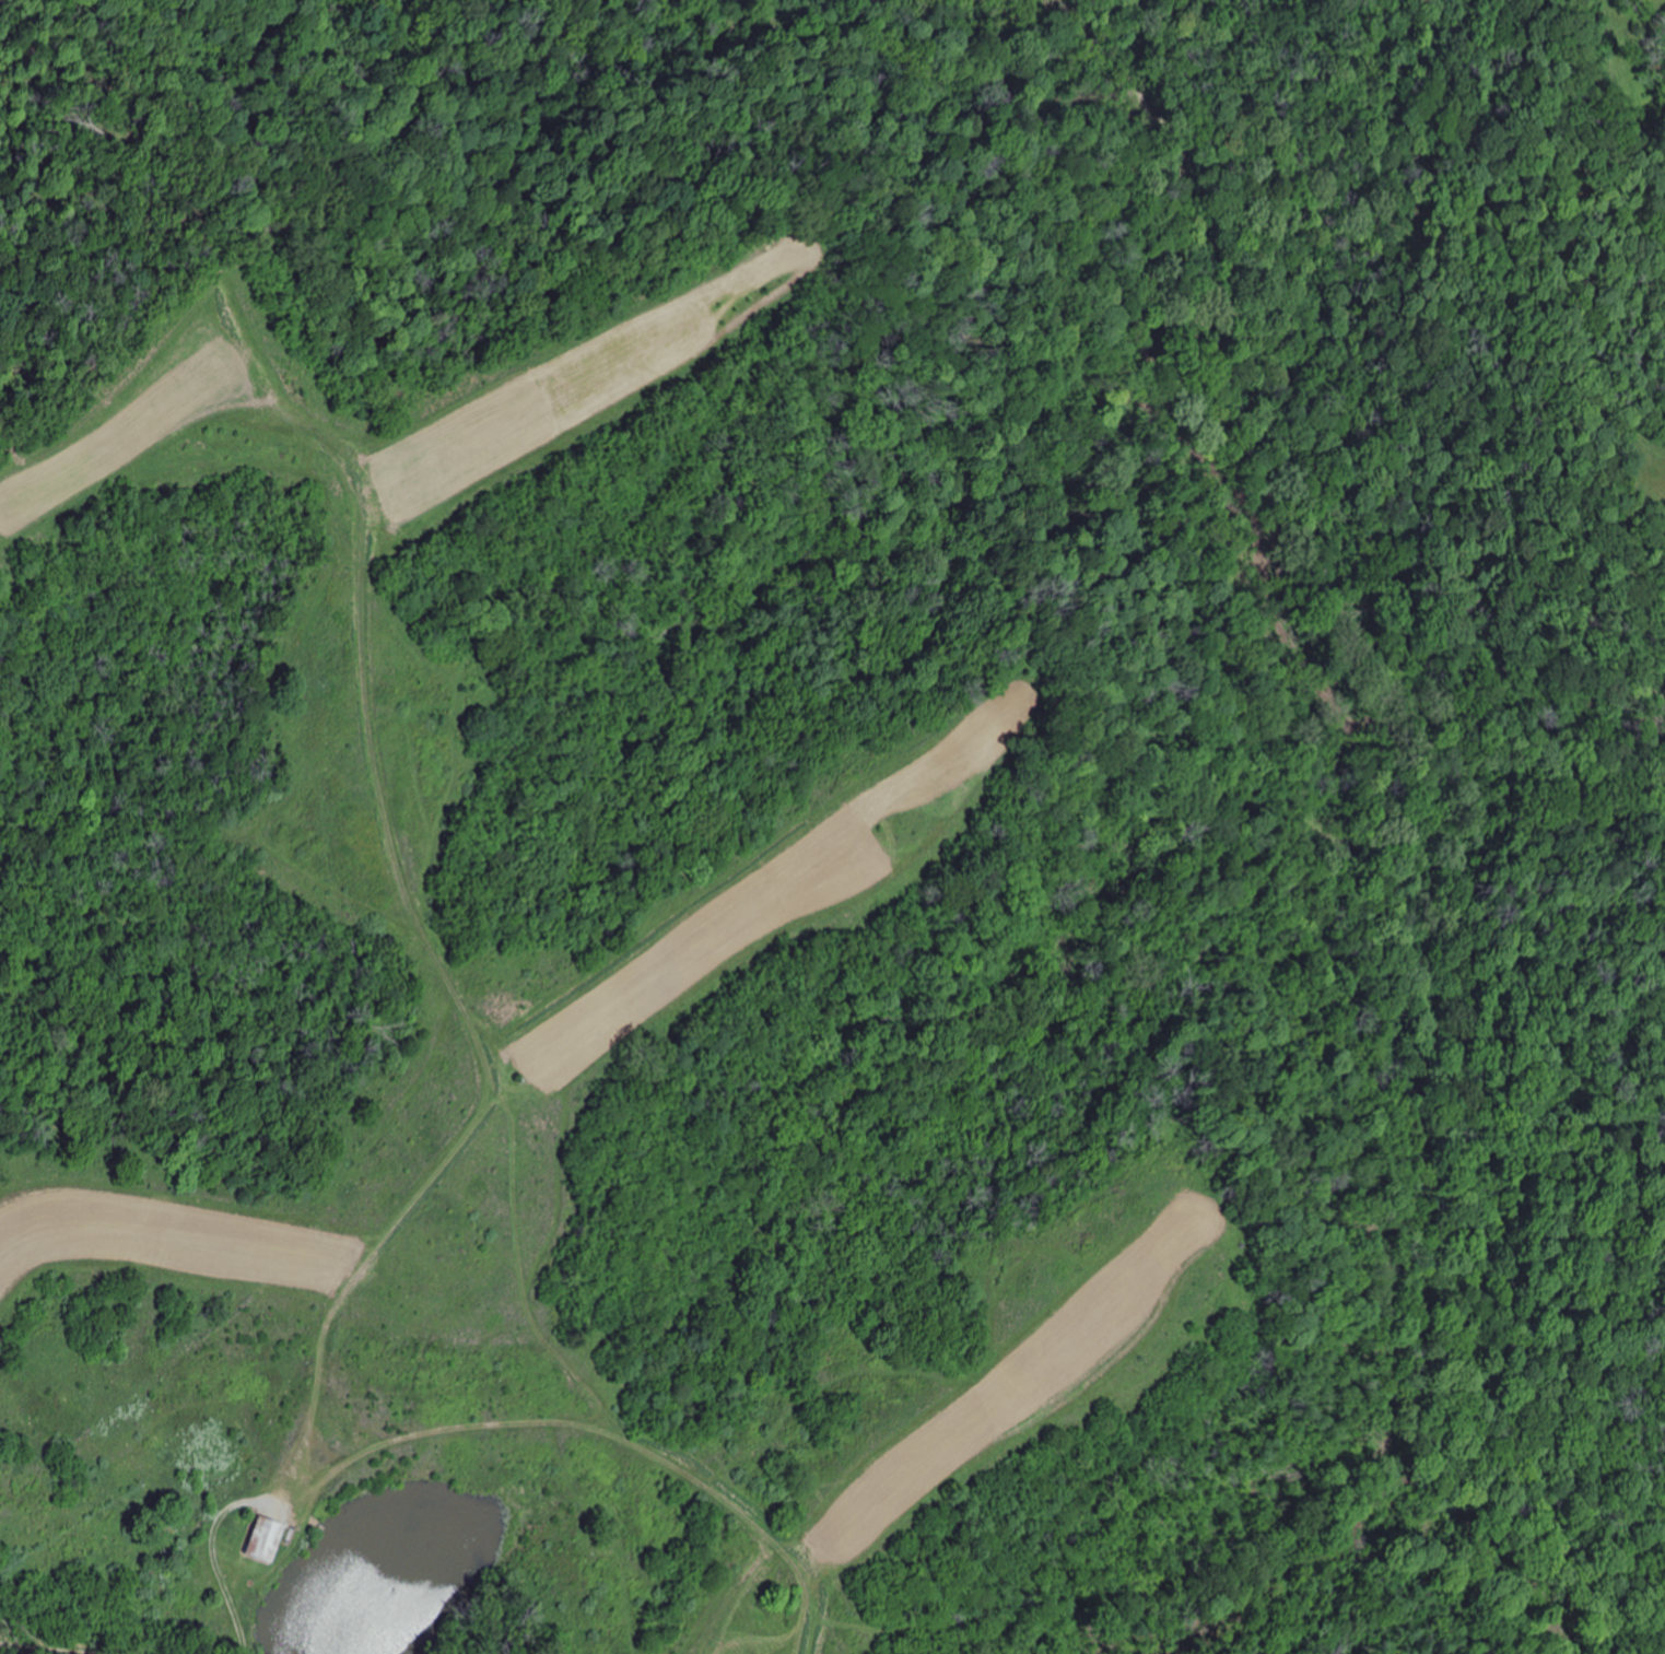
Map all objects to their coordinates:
building: (268, 1540)

